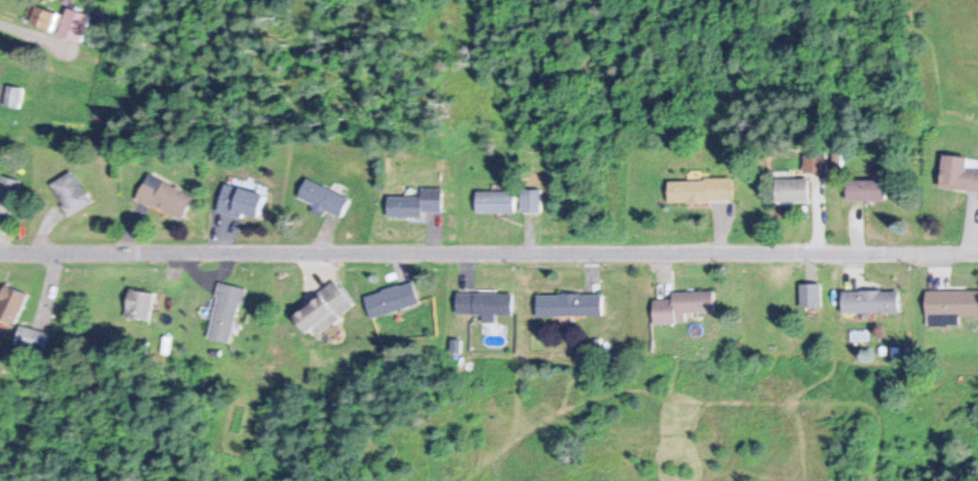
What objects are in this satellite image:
building: (44, 18)
building: (73, 24)
building: (13, 95)
building: (812, 162)
building: (957, 173)
building: (791, 188)
building: (699, 189)
building: (865, 189)
building: (70, 192)
building: (8, 195)
building: (163, 196)
building: (322, 197)
building: (529, 198)
building: (239, 201)
building: (493, 201)
building: (414, 203)
road: (489, 247)
building: (390, 298)
building: (869, 301)
building: (11, 303)
building: (484, 303)
building: (138, 304)
building: (568, 304)
building: (682, 305)
building: (950, 305)
building: (322, 309)
building: (224, 312)
building: (31, 338)
road: (762, 384)
road: (648, 390)
road: (798, 399)
road: (908, 408)
road: (775, 415)
road: (858, 420)
road: (903, 422)
road: (617, 434)
road: (840, 436)
road: (645, 440)
road: (396, 443)
road: (736, 449)
road: (685, 452)

